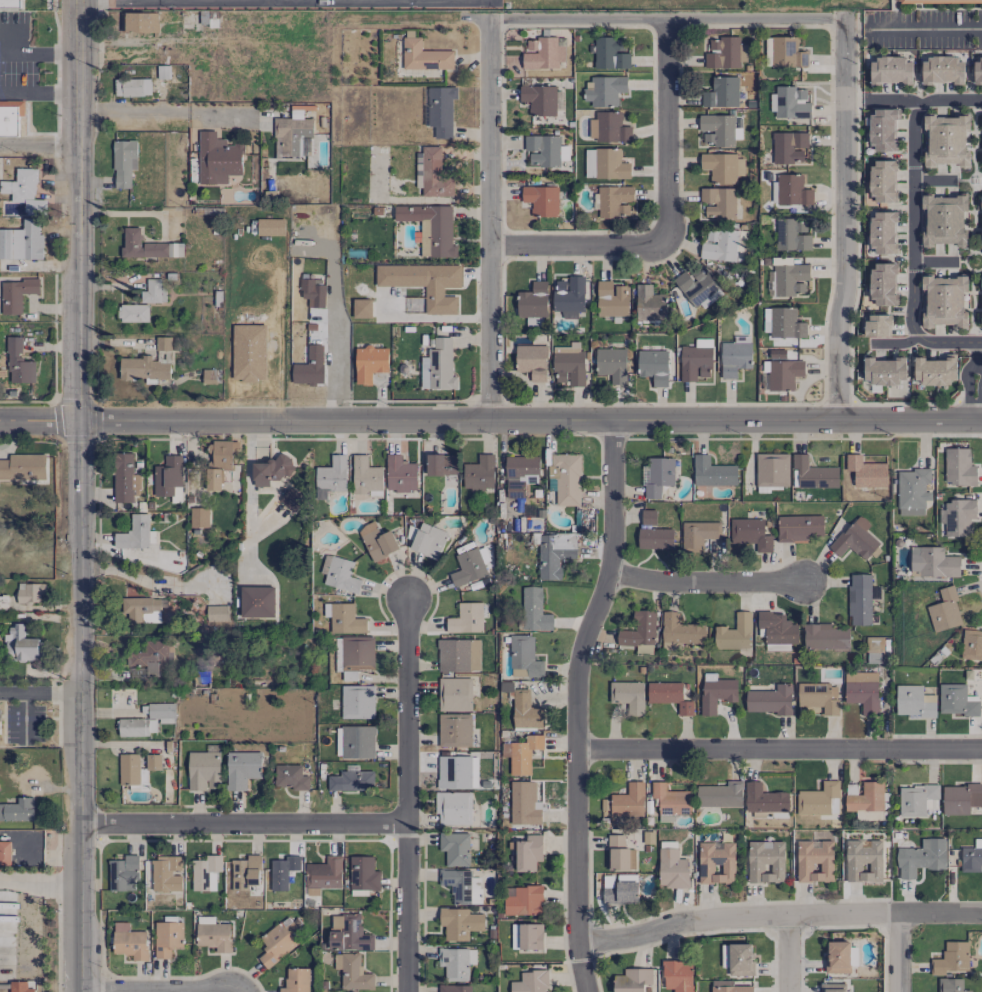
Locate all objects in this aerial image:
road: (119, 0)
building: (938, 0)
building: (9, 4)
road: (667, 20)
building: (139, 22)
road: (931, 29)
road: (40, 51)
building: (787, 52)
building: (611, 53)
building: (725, 53)
building: (542, 54)
building: (424, 56)
building: (890, 70)
building: (942, 70)
building: (977, 70)
building: (132, 87)
road: (40, 90)
building: (603, 90)
building: (721, 93)
building: (539, 99)
road: (860, 102)
road: (898, 102)
building: (790, 103)
building: (441, 110)
road: (167, 114)
building: (10, 117)
building: (608, 127)
building: (717, 130)
road: (667, 131)
building: (293, 135)
building: (946, 141)
road: (39, 142)
building: (789, 147)
building: (542, 150)
building: (217, 159)
building: (123, 163)
building: (605, 164)
building: (722, 167)
building: (432, 173)
road: (933, 180)
building: (883, 181)
building: (24, 190)
building: (792, 190)
building: (541, 200)
building: (614, 201)
building: (981, 201)
building: (718, 203)
road: (78, 211)
road: (845, 219)
road: (913, 220)
building: (944, 220)
road: (490, 221)
building: (270, 227)
building: (431, 228)
building: (883, 232)
building: (792, 235)
building: (981, 238)
building: (22, 241)
road: (579, 242)
building: (722, 245)
building: (147, 246)
road: (933, 261)
building: (790, 279)
building: (981, 282)
building: (424, 283)
building: (883, 284)
building: (696, 287)
building: (153, 292)
building: (313, 292)
building: (15, 294)
building: (568, 296)
building: (612, 299)
building: (533, 300)
building: (944, 300)
building: (650, 304)
building: (361, 308)
building: (133, 313)
building: (981, 319)
building: (766, 320)
building: (785, 324)
building: (877, 326)
building: (163, 343)
road: (979, 344)
road: (895, 345)
road: (337, 352)
building: (249, 353)
building: (734, 358)
building: (695, 360)
building: (532, 361)
building: (18, 363)
building: (369, 363)
building: (611, 364)
building: (568, 365)
building: (438, 366)
building: (653, 366)
building: (309, 367)
building: (143, 368)
building: (884, 370)
building: (934, 371)
building: (784, 374)
road: (978, 381)
road: (490, 419)
building: (441, 465)
building: (21, 467)
building: (959, 467)
building: (270, 470)
building: (772, 470)
building: (712, 472)
building: (866, 472)
building: (479, 473)
building: (814, 473)
building: (400, 474)
building: (520, 474)
building: (167, 475)
building: (332, 475)
building: (659, 475)
building: (365, 476)
building: (125, 478)
building: (566, 478)
building: (912, 491)
building: (292, 499)
building: (200, 517)
building: (648, 517)
building: (959, 517)
building: (799, 528)
building: (134, 533)
building: (698, 534)
building: (750, 534)
building: (655, 538)
building: (855, 539)
building: (428, 540)
building: (377, 541)
building: (554, 553)
building: (933, 562)
building: (468, 567)
building: (339, 574)
road: (707, 584)
building: (30, 593)
building: (859, 599)
building: (257, 602)
building: (141, 609)
building: (534, 610)
building: (944, 611)
building: (217, 613)
building: (344, 619)
building: (466, 619)
building: (777, 628)
building: (639, 630)
building: (679, 631)
building: (734, 633)
building: (825, 637)
building: (21, 644)
building: (971, 644)
building: (874, 645)
building: (643, 649)
building: (354, 653)
building: (458, 655)
building: (153, 656)
building: (524, 657)
road: (40, 691)
building: (862, 691)
building: (716, 692)
building: (455, 694)
building: (628, 696)
building: (669, 696)
building: (819, 697)
building: (770, 700)
building: (956, 700)
building: (357, 701)
road: (576, 702)
building: (914, 702)
road: (80, 707)
building: (161, 710)
building: (526, 711)
building: (132, 727)
building: (454, 730)
building: (357, 742)
road: (779, 751)
building: (524, 754)
building: (152, 762)
building: (128, 769)
building: (242, 769)
building: (203, 770)
building: (457, 772)
building: (290, 777)
building: (351, 781)
road: (406, 793)
building: (720, 795)
building: (864, 796)
building: (961, 798)
building: (671, 799)
building: (764, 799)
building: (628, 800)
building: (819, 800)
building: (917, 800)
building: (524, 803)
building: (453, 808)
building: (18, 810)
building: (868, 815)
road: (243, 825)
building: (455, 848)
building: (4, 853)
building: (528, 853)
building: (619, 854)
building: (921, 857)
building: (972, 857)
building: (815, 861)
building: (864, 861)
building: (716, 862)
building: (765, 862)
building: (672, 869)
building: (205, 872)
building: (282, 872)
building: (123, 873)
building: (241, 873)
building: (166, 874)
building: (363, 874)
building: (324, 876)
road: (40, 881)
building: (461, 886)
building: (620, 893)
building: (524, 901)
road: (940, 915)
road: (737, 920)
building: (459, 923)
building: (348, 933)
building: (214, 936)
building: (527, 936)
building: (167, 938)
building: (129, 942)
building: (277, 942)
road: (899, 953)
road: (788, 954)
building: (837, 957)
building: (951, 958)
building: (738, 959)
building: (456, 962)
building: (352, 972)
building: (677, 975)
building: (296, 980)
building: (632, 980)
building: (531, 982)
building: (950, 985)
building: (21, 987)
building: (833, 987)
building: (454, 988)
building: (732, 989)

